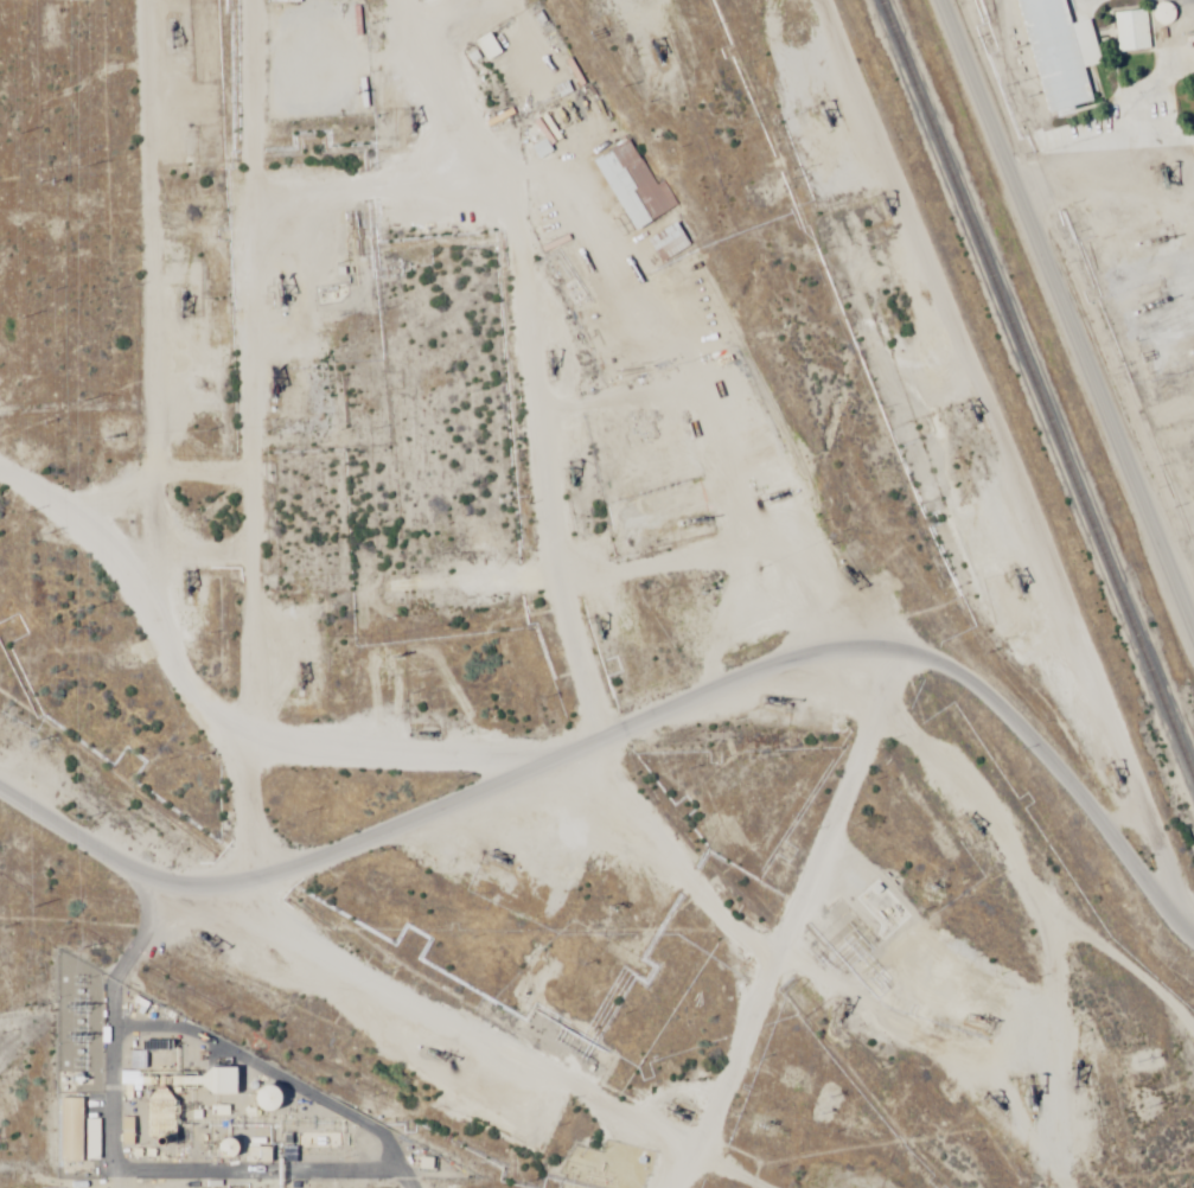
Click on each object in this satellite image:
building: (1130, 32)
building: (1190, 32)
building: (487, 47)
building: (1058, 53)
road: (216, 120)
building: (633, 185)
road: (285, 212)
building: (670, 243)
road: (1068, 302)
road: (816, 353)
railway: (1035, 394)
road: (117, 446)
road: (55, 545)
road: (617, 654)
road: (837, 660)
road: (713, 691)
road: (89, 835)
road: (965, 924)
road: (89, 950)
road: (407, 1039)
building: (159, 1116)
building: (70, 1131)
building: (92, 1139)

